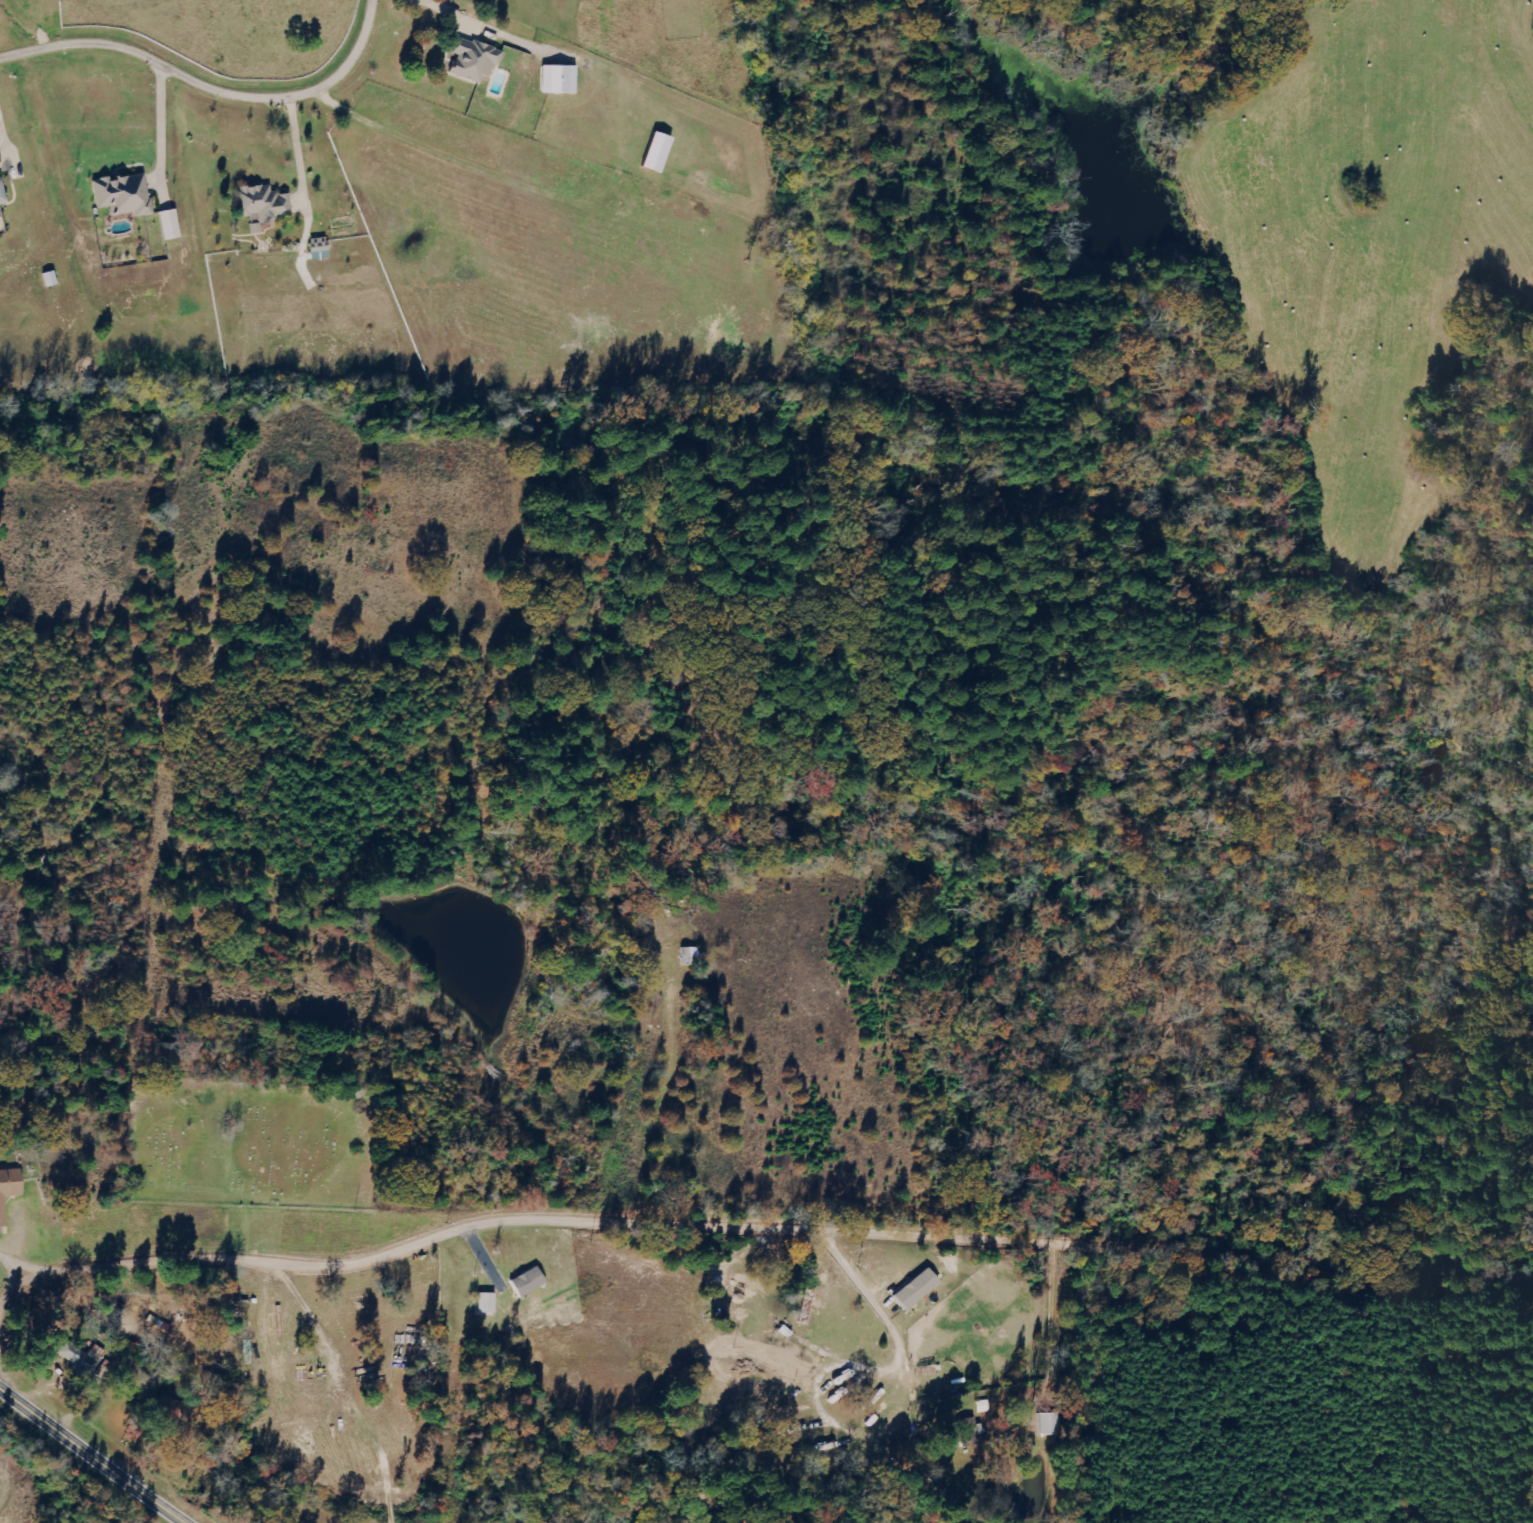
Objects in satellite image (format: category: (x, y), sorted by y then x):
building: (472, 60)
building: (556, 79)
road: (210, 89)
road: (4, 137)
building: (654, 152)
building: (122, 194)
building: (1, 195)
building: (262, 205)
building: (167, 224)
building: (317, 248)
building: (688, 956)
park: (251, 1141)
building: (8, 1184)
road: (762, 1231)
building: (526, 1281)
building: (913, 1289)
building: (484, 1303)
building: (79, 1357)
road: (638, 1383)
road: (1132, 1386)
building: (966, 1432)
road: (885, 1454)
road: (94, 1456)

